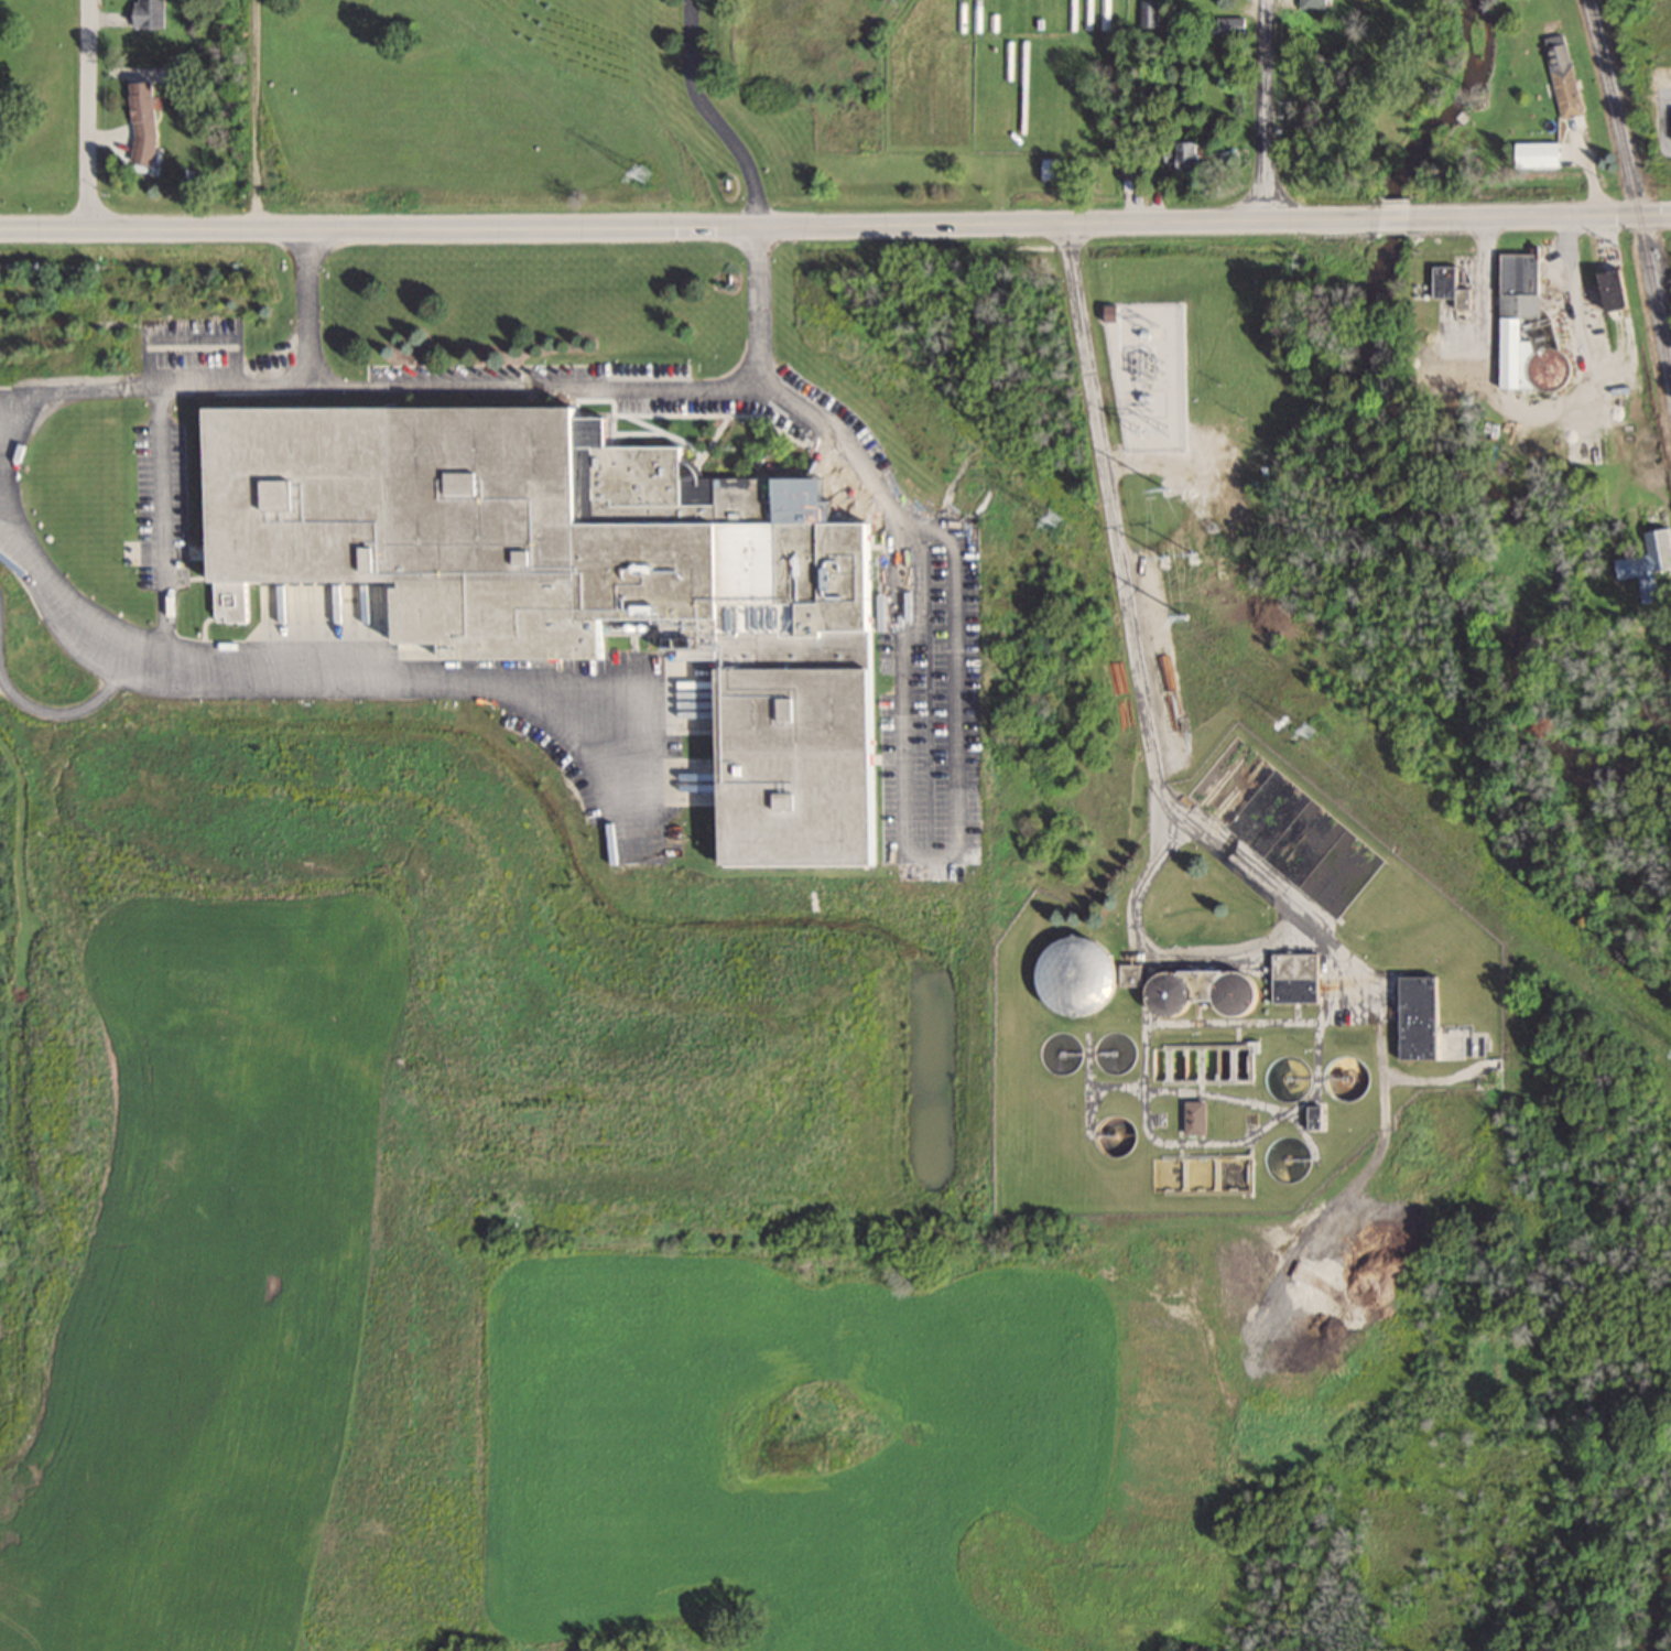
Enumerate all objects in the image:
building: (1317, 3)
building: (1149, 12)
building: (151, 13)
building: (1071, 13)
building: (1087, 13)
building: (1121, 13)
building: (1054, 14)
building: (1104, 14)
building: (991, 18)
building: (1226, 25)
building: (1563, 75)
road: (1265, 109)
road: (90, 115)
road: (713, 115)
building: (147, 121)
building: (1540, 153)
building: (1191, 154)
building: (1055, 168)
railway: (1629, 197)
road: (1542, 215)
road: (1397, 217)
road: (690, 227)
building: (1452, 285)
building: (1616, 291)
power tower: (1146, 322)
building: (1512, 334)
power substation: (1146, 363)
road: (310, 382)
road: (533, 387)
road: (2, 416)
river: (1440, 435)
road: (158, 451)
building: (1660, 533)
building: (1665, 555)
building: (655, 560)
building: (1643, 576)
road: (326, 678)
road: (900, 722)
building: (1282, 827)
building: (1075, 973)
building: (1296, 978)
building: (1422, 1018)
building: (1202, 1026)
building: (1196, 1118)
building: (1317, 1119)

